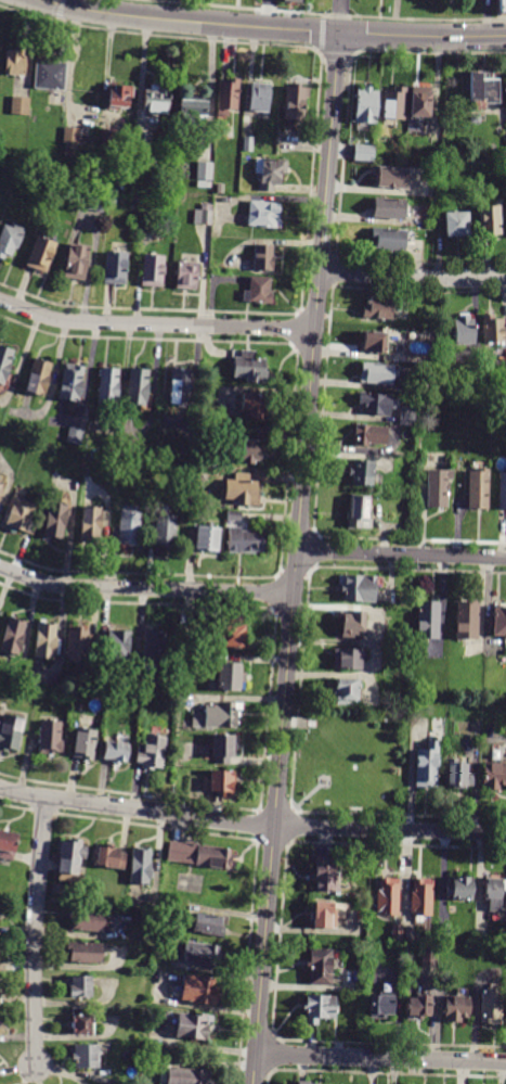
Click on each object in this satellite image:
road: (50, 1)
building: (294, 1)
road: (63, 2)
building: (503, 8)
road: (244, 13)
road: (268, 13)
road: (339, 15)
road: (190, 22)
traffic signals: (339, 30)
road: (421, 35)
building: (15, 62)
building: (50, 73)
building: (505, 81)
building: (485, 91)
building: (119, 95)
building: (230, 98)
building: (156, 99)
building: (262, 100)
building: (21, 104)
building: (297, 104)
building: (395, 105)
building: (367, 107)
building: (421, 111)
building: (194, 115)
building: (476, 118)
building: (70, 137)
building: (108, 137)
building: (143, 139)
building: (248, 143)
building: (363, 152)
building: (68, 153)
building: (503, 155)
building: (206, 171)
building: (270, 171)
building: (390, 177)
building: (203, 184)
building: (219, 189)
building: (60, 192)
building: (137, 199)
building: (112, 200)
building: (96, 203)
building: (389, 207)
building: (203, 214)
building: (262, 215)
building: (488, 219)
building: (455, 222)
building: (10, 240)
building: (386, 240)
building: (41, 254)
building: (262, 257)
building: (75, 262)
building: (114, 268)
building: (153, 270)
building: (186, 276)
road: (412, 277)
building: (258, 291)
building: (378, 308)
road: (155, 323)
building: (464, 330)
building: (492, 330)
building: (373, 343)
building: (4, 361)
building: (249, 367)
building: (377, 373)
building: (38, 377)
building: (72, 382)
building: (108, 385)
building: (138, 386)
building: (180, 386)
building: (486, 391)
building: (376, 404)
building: (250, 407)
building: (407, 416)
building: (75, 435)
building: (368, 435)
building: (241, 450)
building: (360, 473)
building: (1, 486)
building: (438, 487)
building: (476, 488)
building: (239, 490)
building: (501, 490)
building: (354, 511)
building: (21, 513)
building: (233, 515)
building: (52, 521)
building: (89, 524)
building: (126, 525)
building: (160, 532)
building: (203, 539)
building: (244, 540)
road: (402, 554)
road: (297, 557)
road: (144, 588)
building: (356, 588)
building: (428, 620)
building: (467, 621)
building: (498, 622)
building: (350, 625)
building: (230, 635)
building: (14, 637)
building: (46, 641)
building: (79, 646)
building: (115, 647)
building: (153, 647)
building: (343, 660)
building: (226, 677)
building: (342, 690)
building: (215, 717)
building: (11, 732)
building: (50, 737)
building: (85, 742)
building: (220, 748)
building: (115, 750)
building: (150, 751)
road: (294, 755)
building: (426, 766)
park: (343, 769)
road: (327, 776)
building: (492, 776)
building: (455, 777)
building: (217, 782)
road: (306, 794)
road: (273, 805)
road: (346, 809)
road: (257, 821)
road: (251, 824)
road: (289, 825)
road: (272, 838)
building: (8, 844)
building: (198, 855)
building: (109, 856)
building: (70, 859)
building: (138, 866)
building: (324, 877)
building: (460, 889)
building: (494, 892)
building: (387, 897)
building: (421, 897)
building: (158, 908)
building: (322, 916)
building: (85, 920)
building: (208, 924)
building: (444, 930)
road: (33, 933)
building: (410, 933)
building: (398, 934)
building: (82, 953)
building: (200, 954)
building: (429, 957)
building: (322, 967)
building: (77, 986)
building: (197, 990)
building: (415, 1005)
building: (489, 1005)
building: (378, 1006)
building: (455, 1007)
building: (317, 1008)
building: (144, 1011)
building: (82, 1020)
building: (192, 1025)
building: (83, 1057)
road: (380, 1058)
building: (185, 1075)
building: (307, 1082)
building: (75, 1083)

